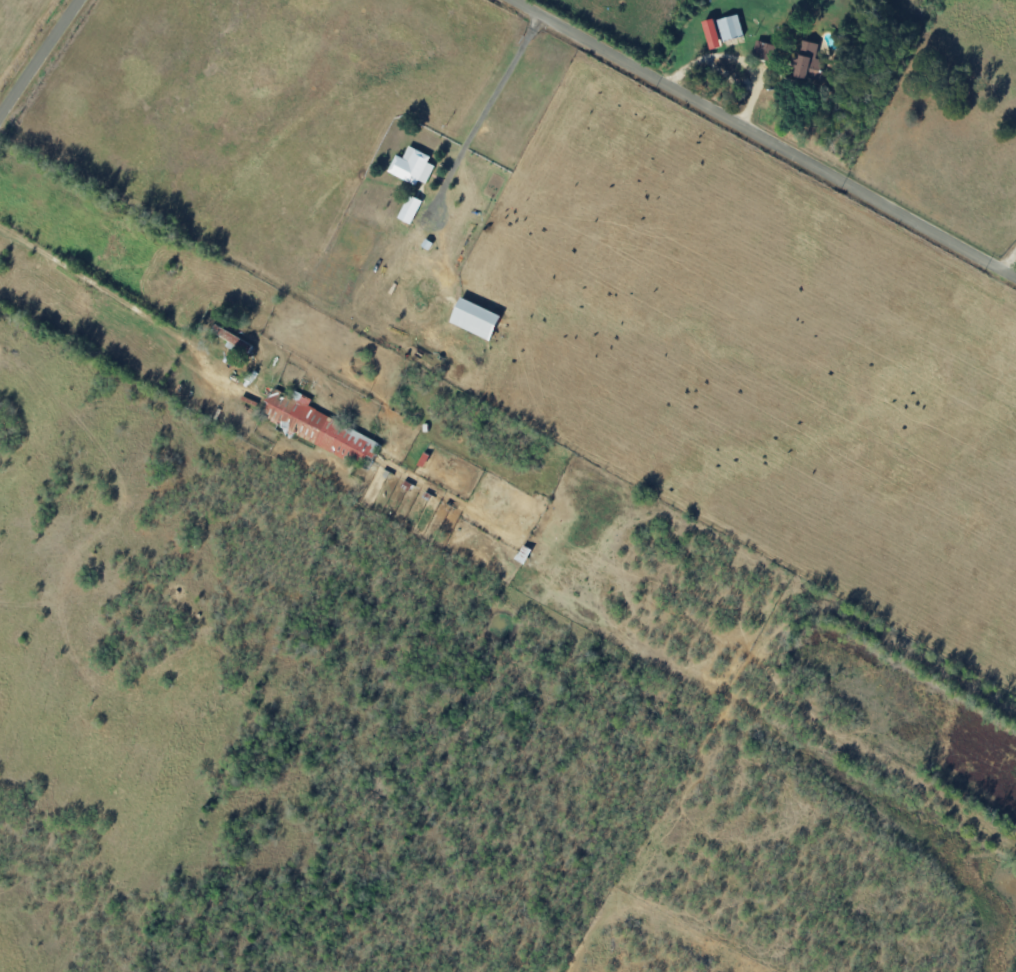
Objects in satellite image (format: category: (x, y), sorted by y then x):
building: (729, 27)
building: (711, 32)
building: (763, 49)
road: (40, 58)
road: (734, 58)
building: (809, 62)
road: (493, 109)
road: (760, 136)
building: (411, 166)
building: (409, 209)
road: (1010, 262)
building: (473, 318)
building: (230, 339)
building: (316, 425)
road: (108, 550)

